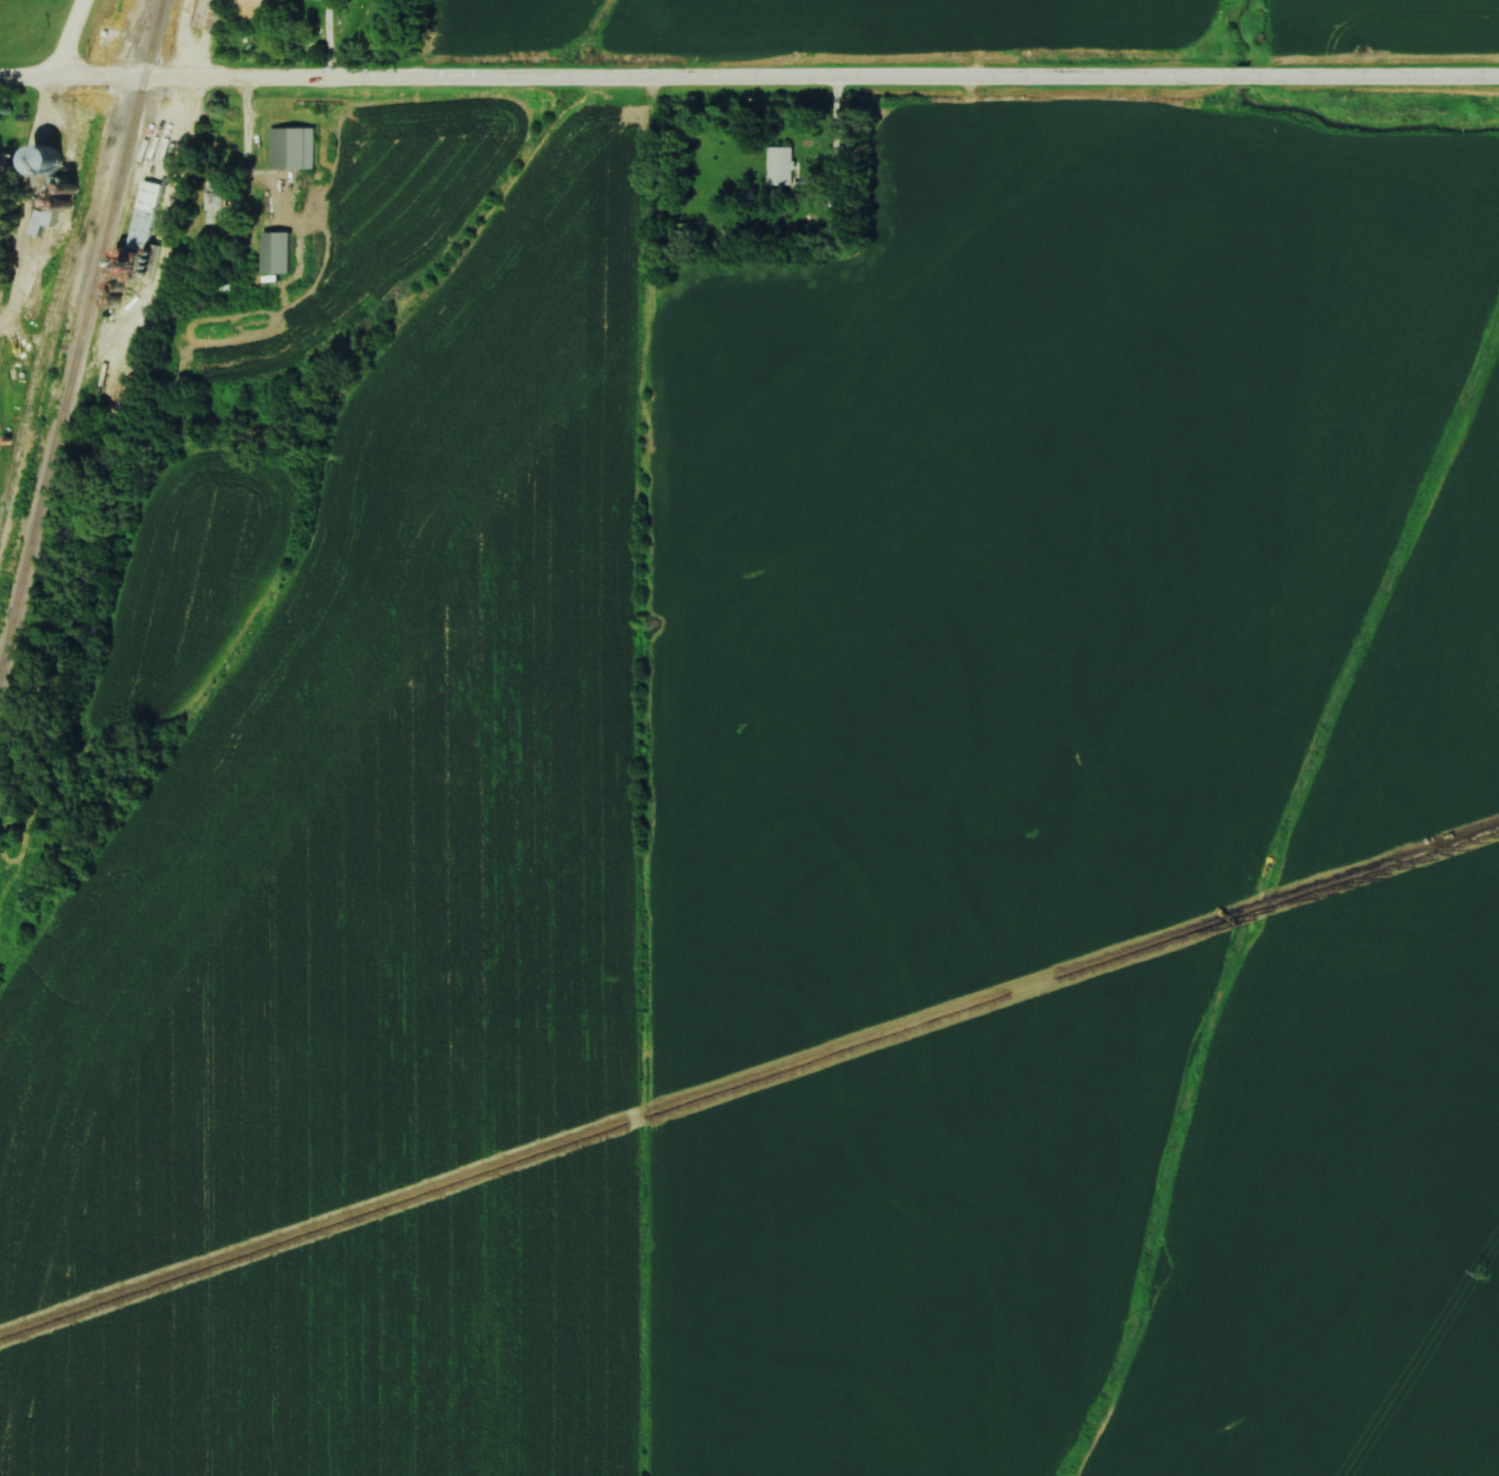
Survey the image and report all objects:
building: (220, 1)
building: (256, 11)
road: (72, 41)
road: (328, 41)
road: (749, 81)
building: (280, 136)
building: (306, 136)
road: (836, 146)
building: (51, 161)
building: (783, 167)
road: (252, 175)
building: (217, 201)
road: (29, 204)
building: (146, 219)
building: (45, 222)
road: (174, 229)
building: (278, 253)
railway: (63, 267)
road: (116, 326)
railway: (81, 332)
road: (658, 778)
power tower: (1483, 1275)

